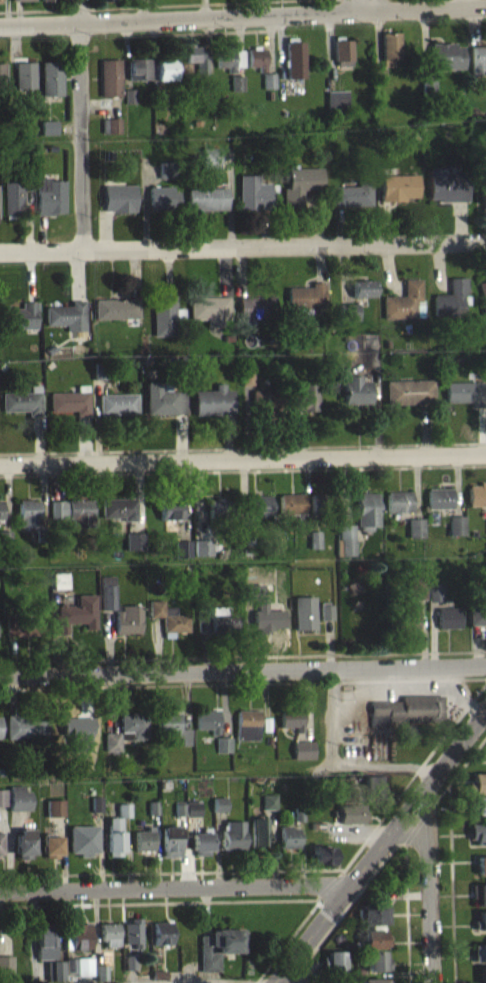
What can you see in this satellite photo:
building: (155, 1)
building: (109, 2)
building: (22, 3)
building: (46, 3)
building: (0, 4)
road: (376, 5)
road: (348, 6)
road: (243, 15)
building: (390, 53)
building: (343, 56)
building: (446, 62)
building: (196, 63)
building: (229, 64)
building: (257, 64)
building: (295, 65)
building: (478, 65)
building: (343, 70)
building: (166, 74)
building: (138, 75)
building: (25, 81)
building: (2, 83)
building: (109, 83)
building: (51, 84)
building: (428, 91)
road: (83, 123)
building: (111, 131)
building: (209, 163)
building: (166, 175)
building: (301, 191)
building: (446, 191)
building: (398, 193)
building: (255, 198)
building: (483, 200)
building: (353, 201)
building: (50, 202)
building: (13, 204)
building: (120, 204)
building: (164, 204)
building: (208, 205)
road: (242, 245)
building: (363, 294)
building: (307, 302)
building: (483, 303)
building: (452, 304)
building: (403, 307)
building: (256, 313)
building: (117, 314)
building: (210, 316)
building: (349, 317)
building: (22, 322)
building: (67, 322)
building: (164, 322)
building: (365, 338)
building: (366, 347)
building: (98, 368)
building: (245, 374)
building: (355, 386)
building: (409, 389)
building: (465, 391)
building: (305, 394)
building: (162, 397)
building: (22, 398)
building: (212, 398)
building: (265, 398)
building: (69, 399)
building: (115, 402)
road: (243, 446)
road: (243, 460)
road: (243, 469)
building: (477, 491)
building: (438, 496)
building: (398, 498)
building: (321, 500)
building: (290, 501)
building: (258, 503)
building: (217, 507)
building: (366, 507)
building: (119, 514)
building: (1, 516)
building: (170, 516)
building: (71, 517)
building: (28, 519)
building: (456, 522)
building: (415, 525)
building: (245, 529)
building: (457, 531)
building: (313, 537)
building: (345, 538)
building: (202, 544)
building: (315, 545)
building: (134, 547)
building: (203, 553)
building: (182, 554)
building: (58, 577)
building: (416, 585)
building: (106, 590)
building: (435, 590)
building: (262, 607)
building: (326, 608)
building: (76, 610)
building: (303, 610)
building: (477, 610)
building: (167, 615)
building: (448, 615)
building: (200, 616)
building: (221, 616)
building: (402, 616)
building: (126, 617)
building: (327, 617)
building: (24, 624)
building: (224, 628)
building: (17, 634)
road: (243, 654)
road: (243, 668)
road: (242, 681)
building: (406, 707)
building: (291, 716)
building: (206, 718)
building: (132, 722)
building: (246, 722)
building: (265, 722)
building: (172, 723)
building: (26, 725)
building: (79, 726)
building: (0, 738)
building: (111, 739)
building: (222, 742)
building: (302, 748)
building: (223, 750)
road: (412, 772)
building: (478, 780)
building: (372, 784)
building: (2, 795)
building: (17, 796)
building: (267, 799)
building: (94, 801)
building: (217, 802)
building: (477, 802)
building: (53, 805)
building: (152, 805)
building: (191, 806)
building: (178, 807)
building: (268, 807)
building: (96, 810)
building: (219, 810)
building: (348, 810)
building: (298, 811)
building: (478, 811)
building: (54, 814)
building: (187, 815)
building: (123, 816)
building: (311, 821)
building: (115, 828)
building: (256, 828)
building: (478, 830)
building: (231, 833)
building: (287, 834)
building: (82, 837)
building: (142, 837)
building: (169, 838)
building: (199, 840)
building: (22, 841)
building: (49, 843)
building: (0, 844)
road: (405, 846)
road: (379, 847)
building: (320, 852)
building: (481, 862)
road: (197, 870)
building: (481, 870)
road: (452, 883)
road: (427, 885)
road: (175, 888)
building: (479, 890)
building: (376, 891)
road: (157, 901)
road: (344, 910)
building: (374, 912)
building: (480, 919)
building: (480, 927)
building: (131, 930)
building: (108, 931)
building: (160, 931)
road: (292, 932)
building: (76, 934)
building: (374, 935)
road: (31, 937)
building: (44, 938)
building: (217, 943)
building: (372, 945)
building: (479, 950)
building: (333, 957)
building: (375, 957)
building: (129, 960)
building: (5, 961)
building: (68, 962)
building: (321, 966)
building: (377, 967)
building: (53, 968)
building: (130, 968)
building: (99, 970)
building: (83, 972)
building: (158, 972)
building: (481, 973)
road: (292, 974)
building: (373, 979)
road: (174, 980)

